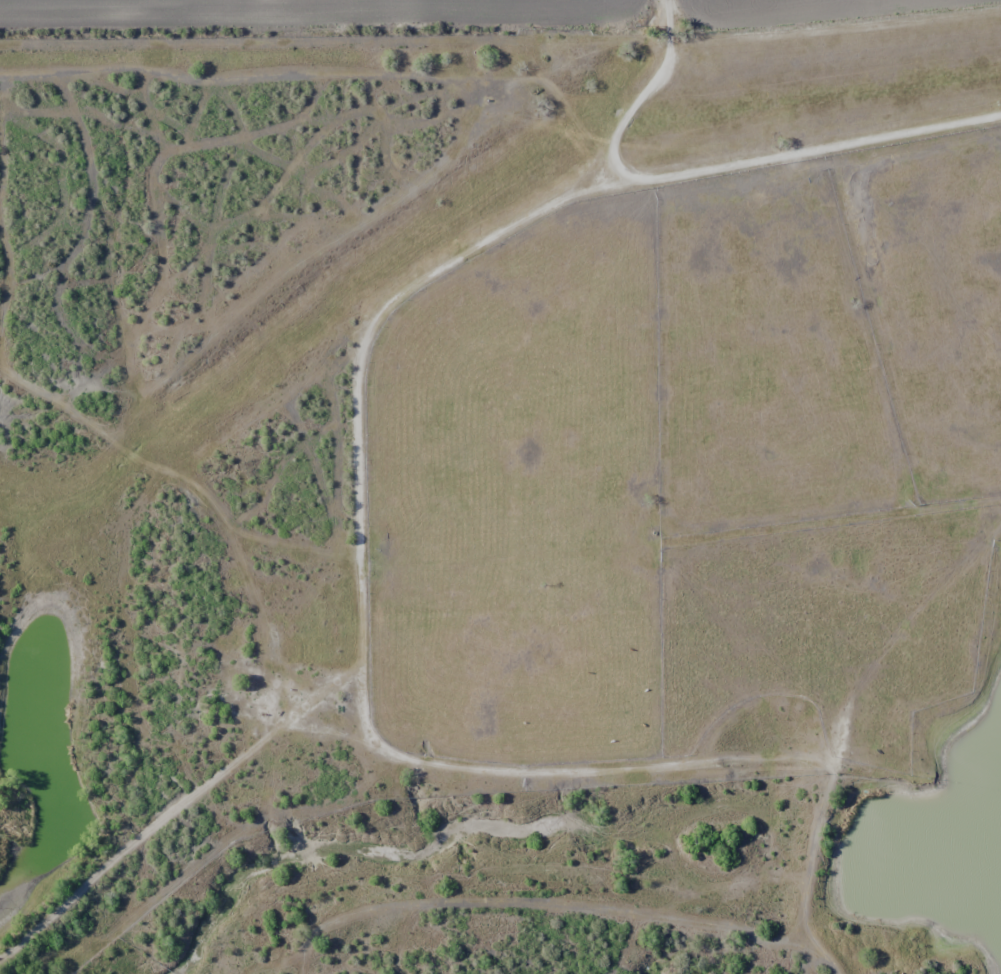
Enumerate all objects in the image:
road: (820, 29)

